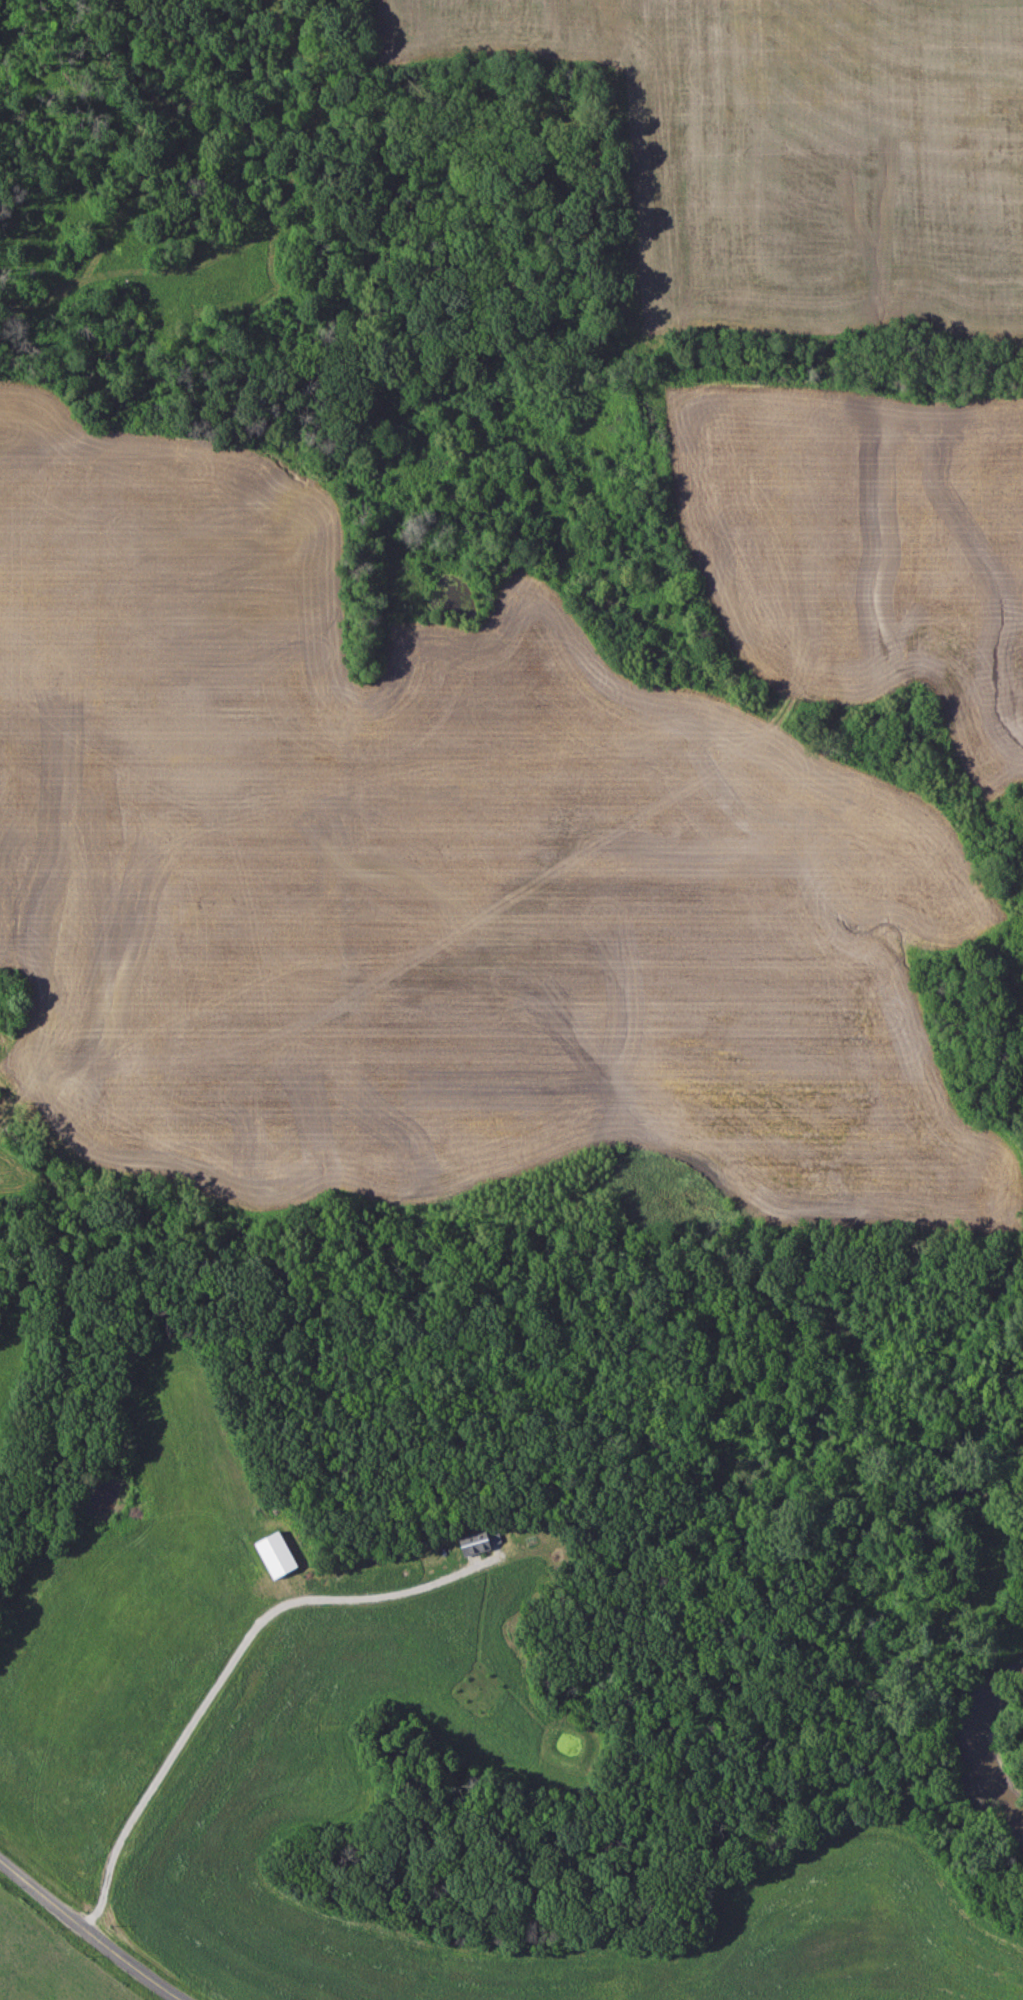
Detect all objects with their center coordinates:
road: (220, 1671)
river: (995, 1714)
road: (92, 1933)

